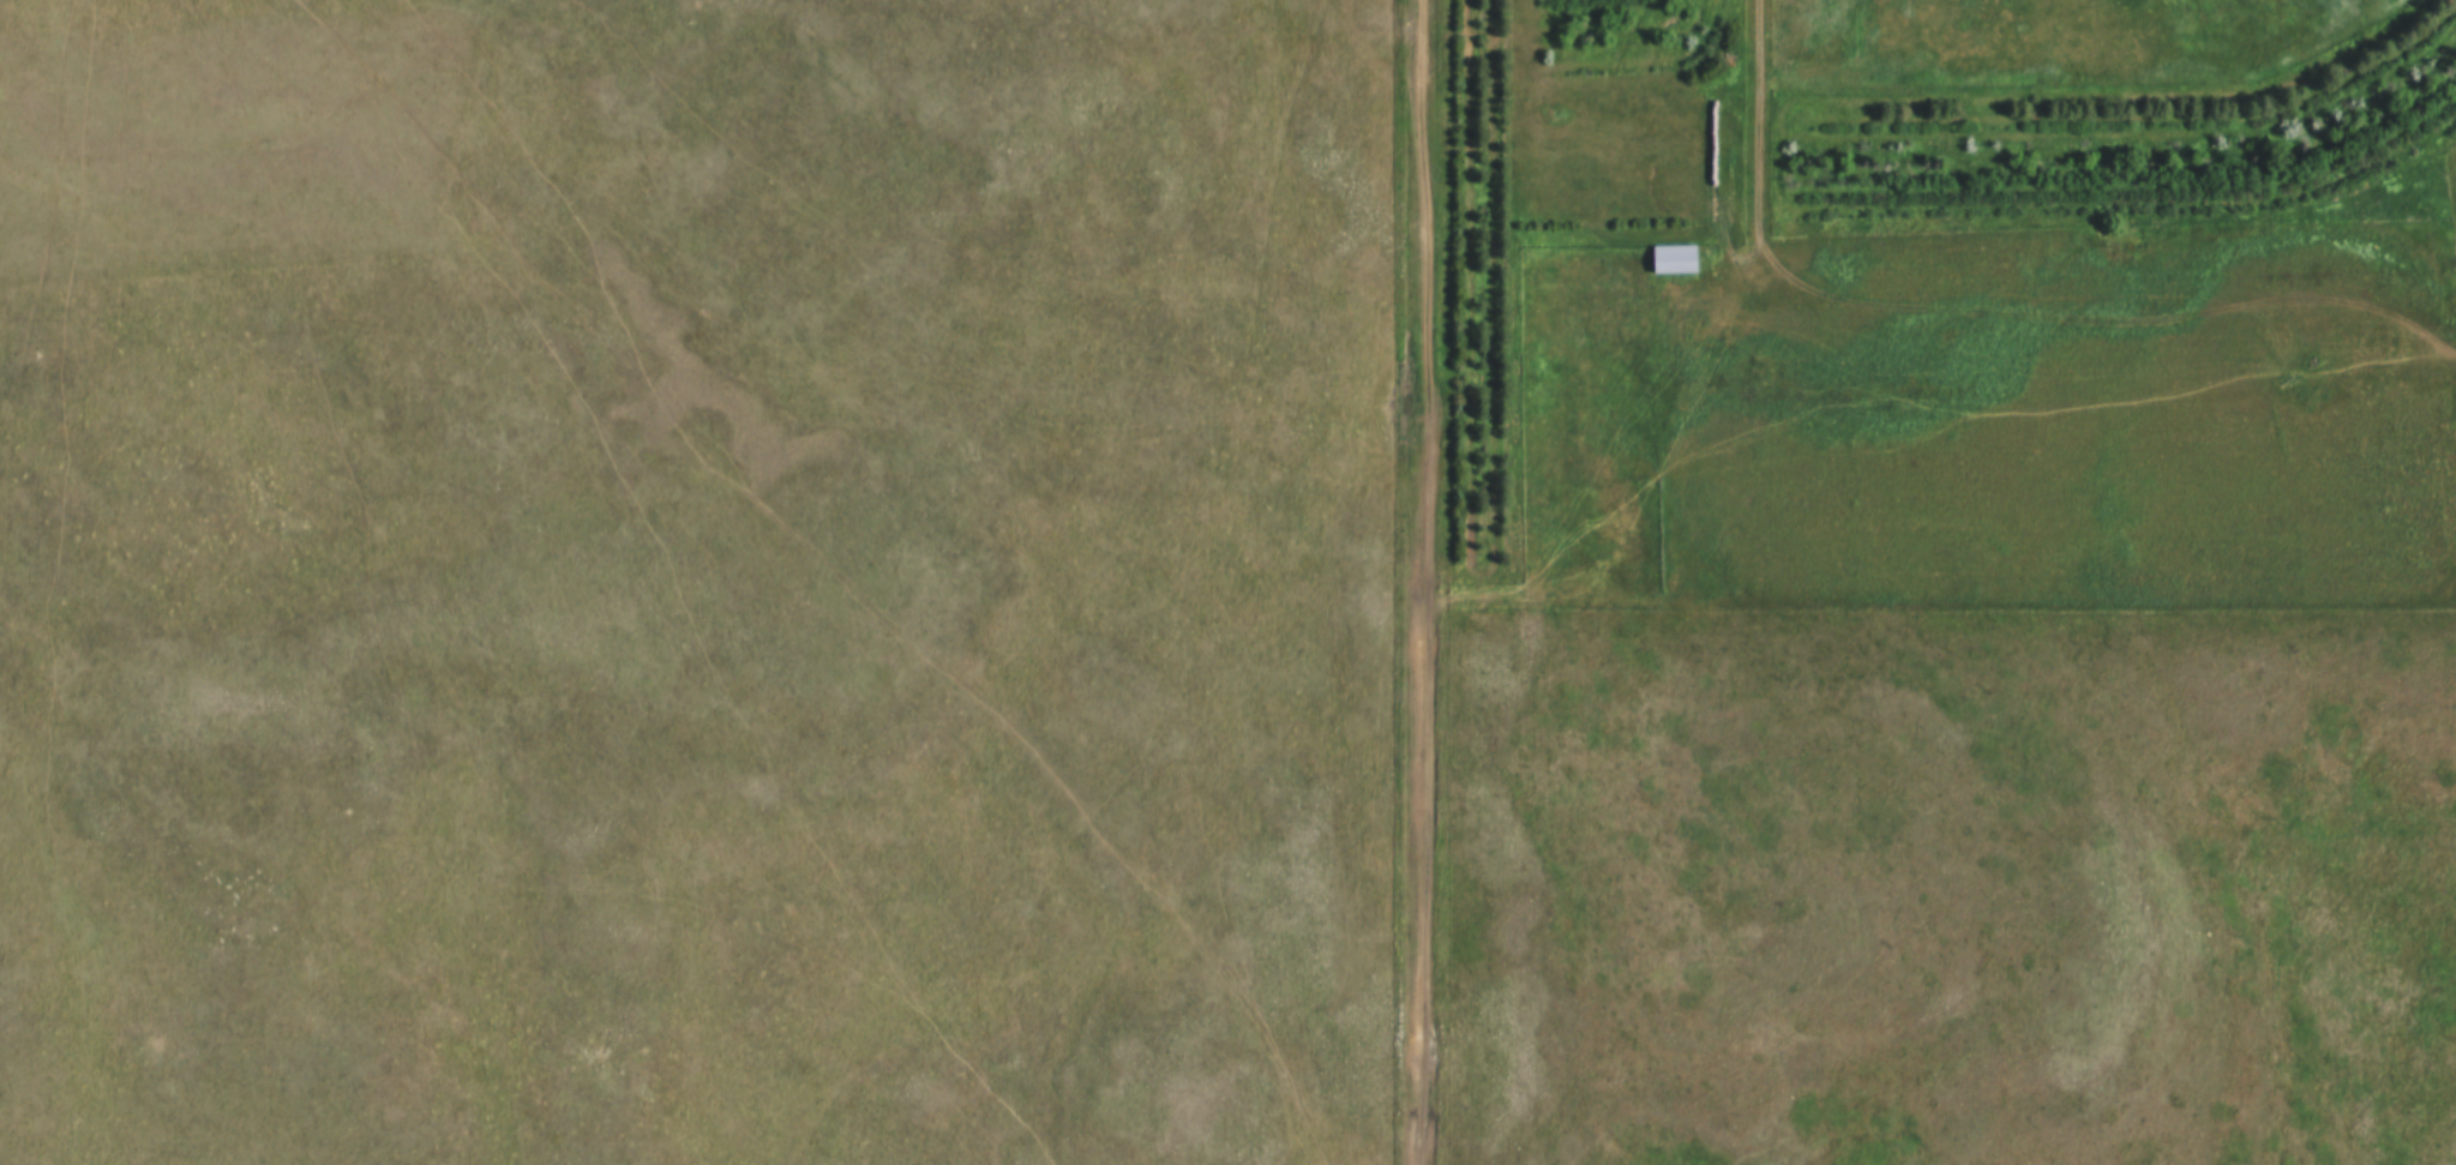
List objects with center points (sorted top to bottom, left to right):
road: (1759, 143)
building: (1674, 260)
building: (1548, 272)
road: (1425, 582)

